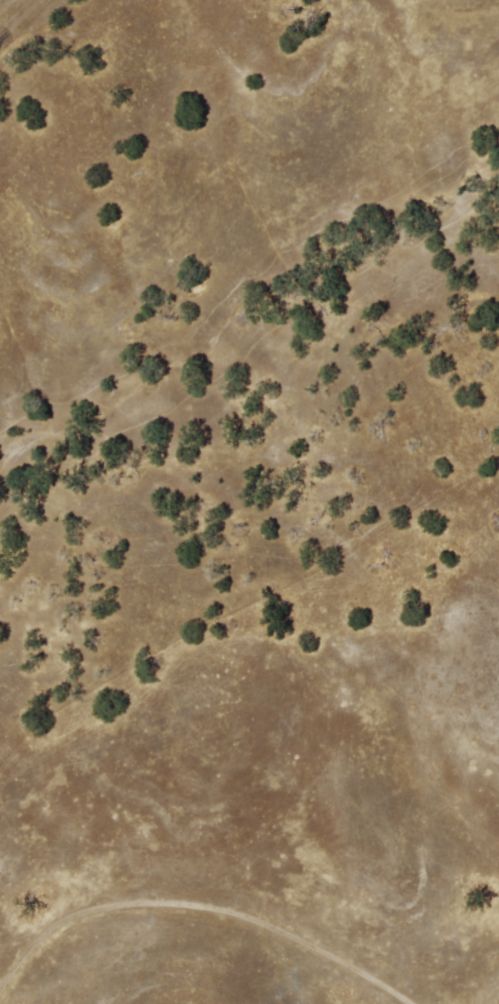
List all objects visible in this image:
road: (197, 907)

